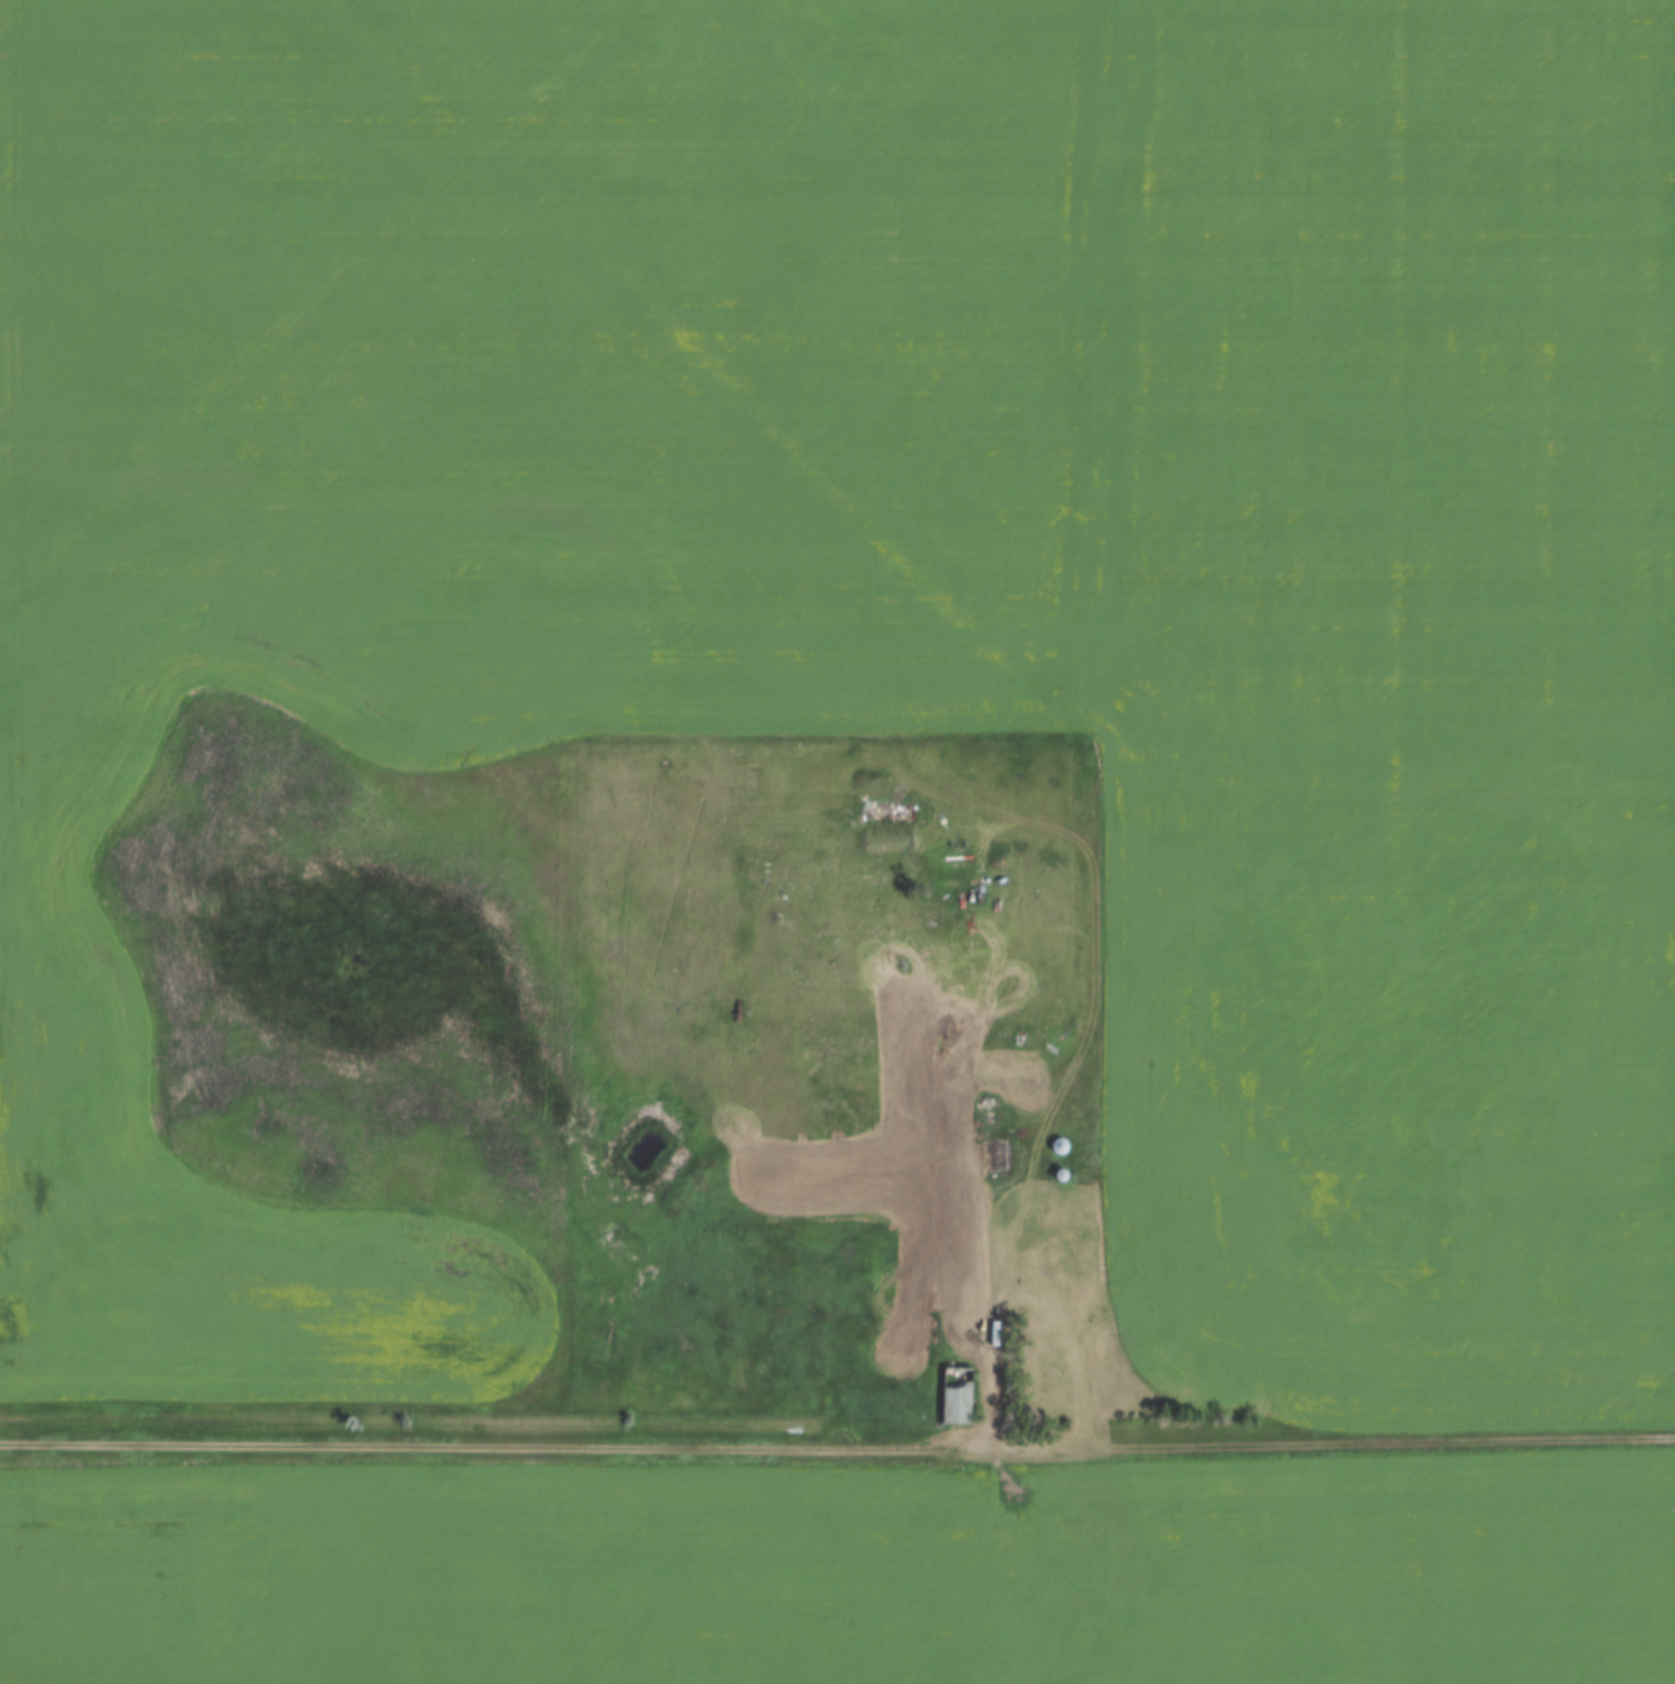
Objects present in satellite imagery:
building: (997, 1156)
road: (990, 1313)
building: (959, 1394)
road: (837, 1446)

